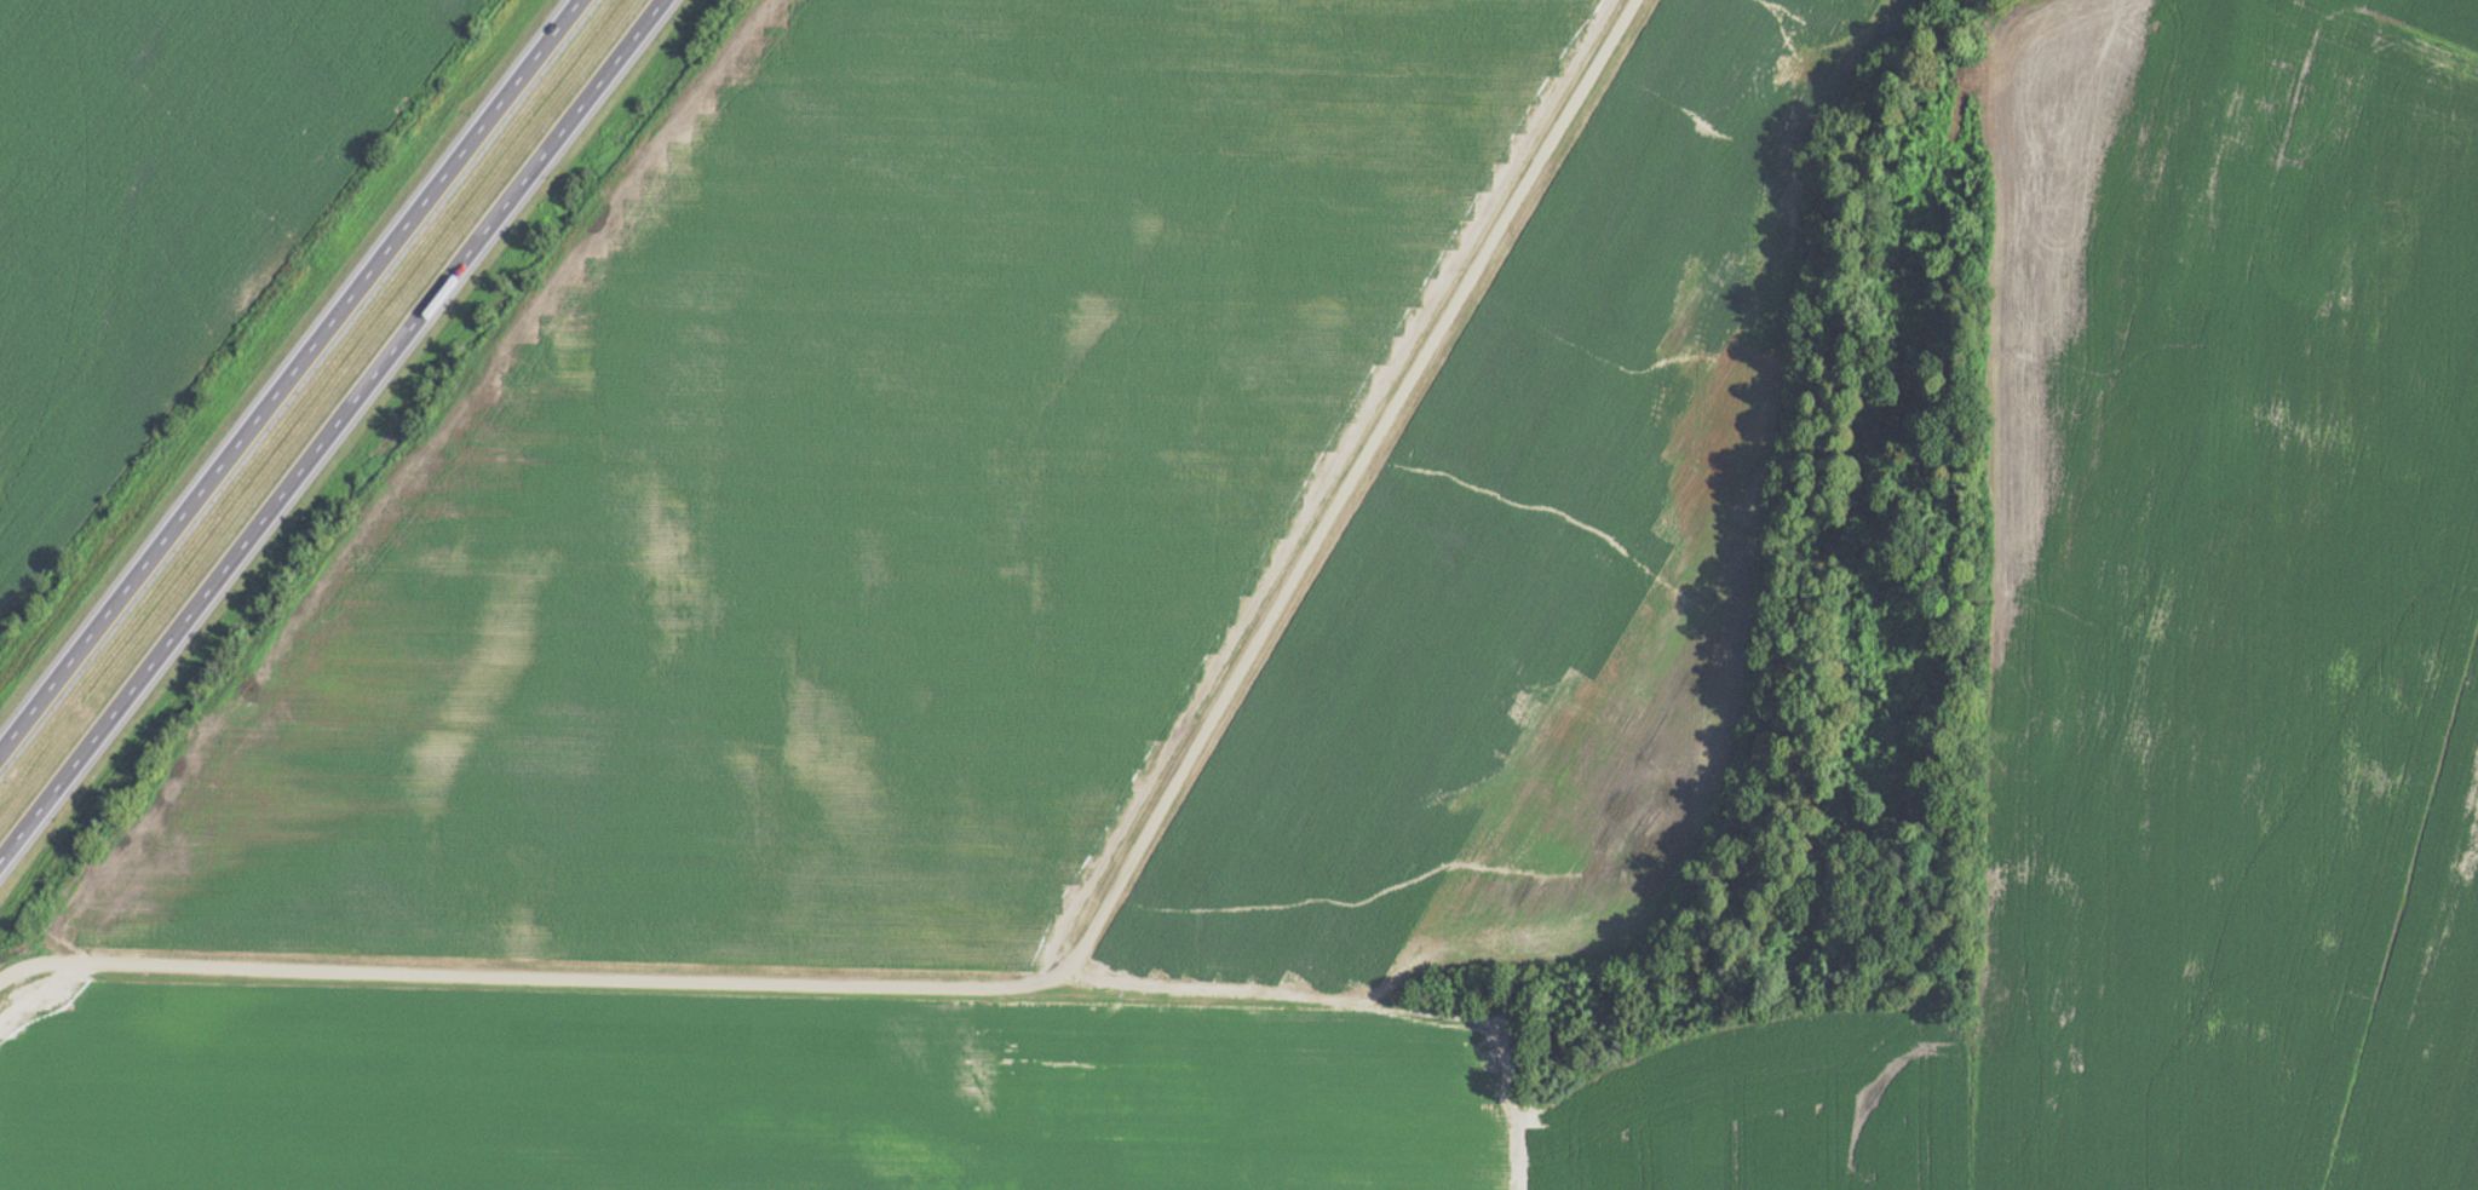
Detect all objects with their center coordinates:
road: (288, 374)
road: (332, 431)
road: (1077, 947)

